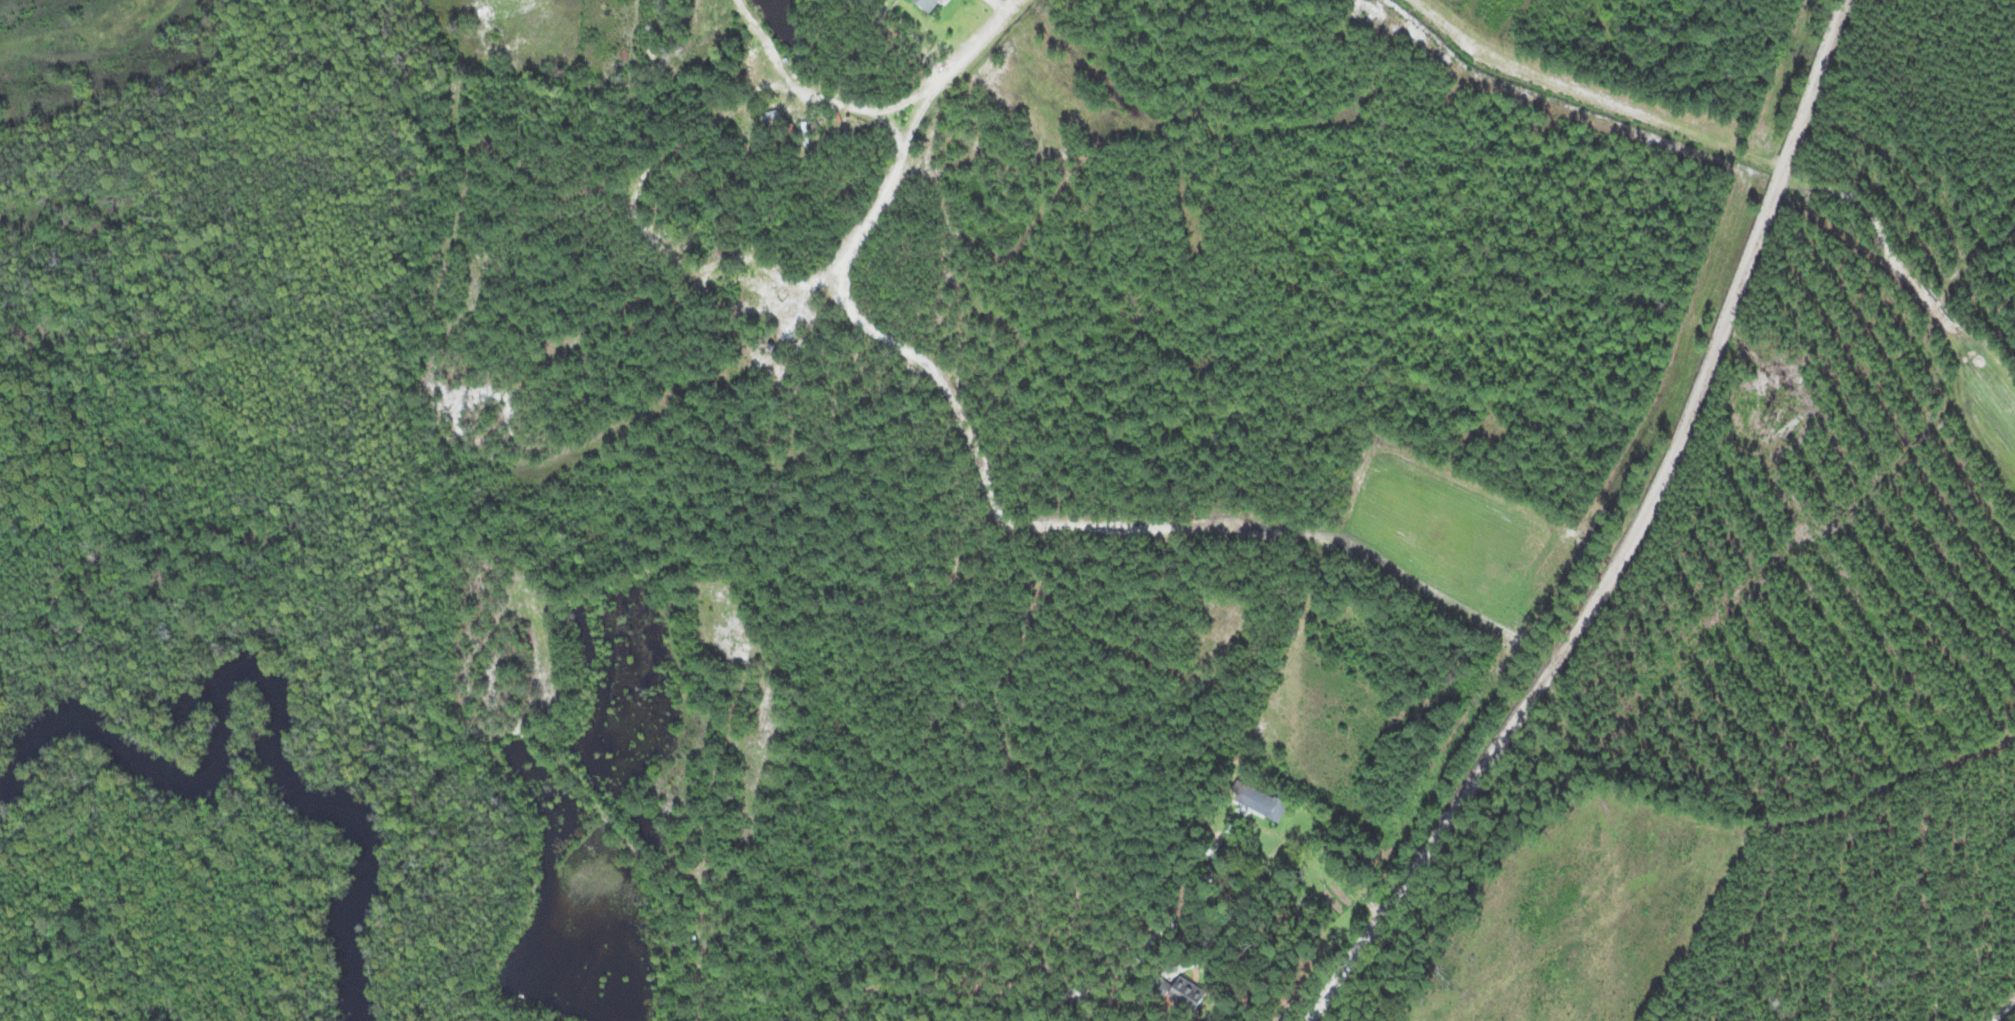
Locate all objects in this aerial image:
building: (923, 4)
building: (770, 113)
road: (1630, 538)
building: (1256, 799)
building: (1178, 991)

